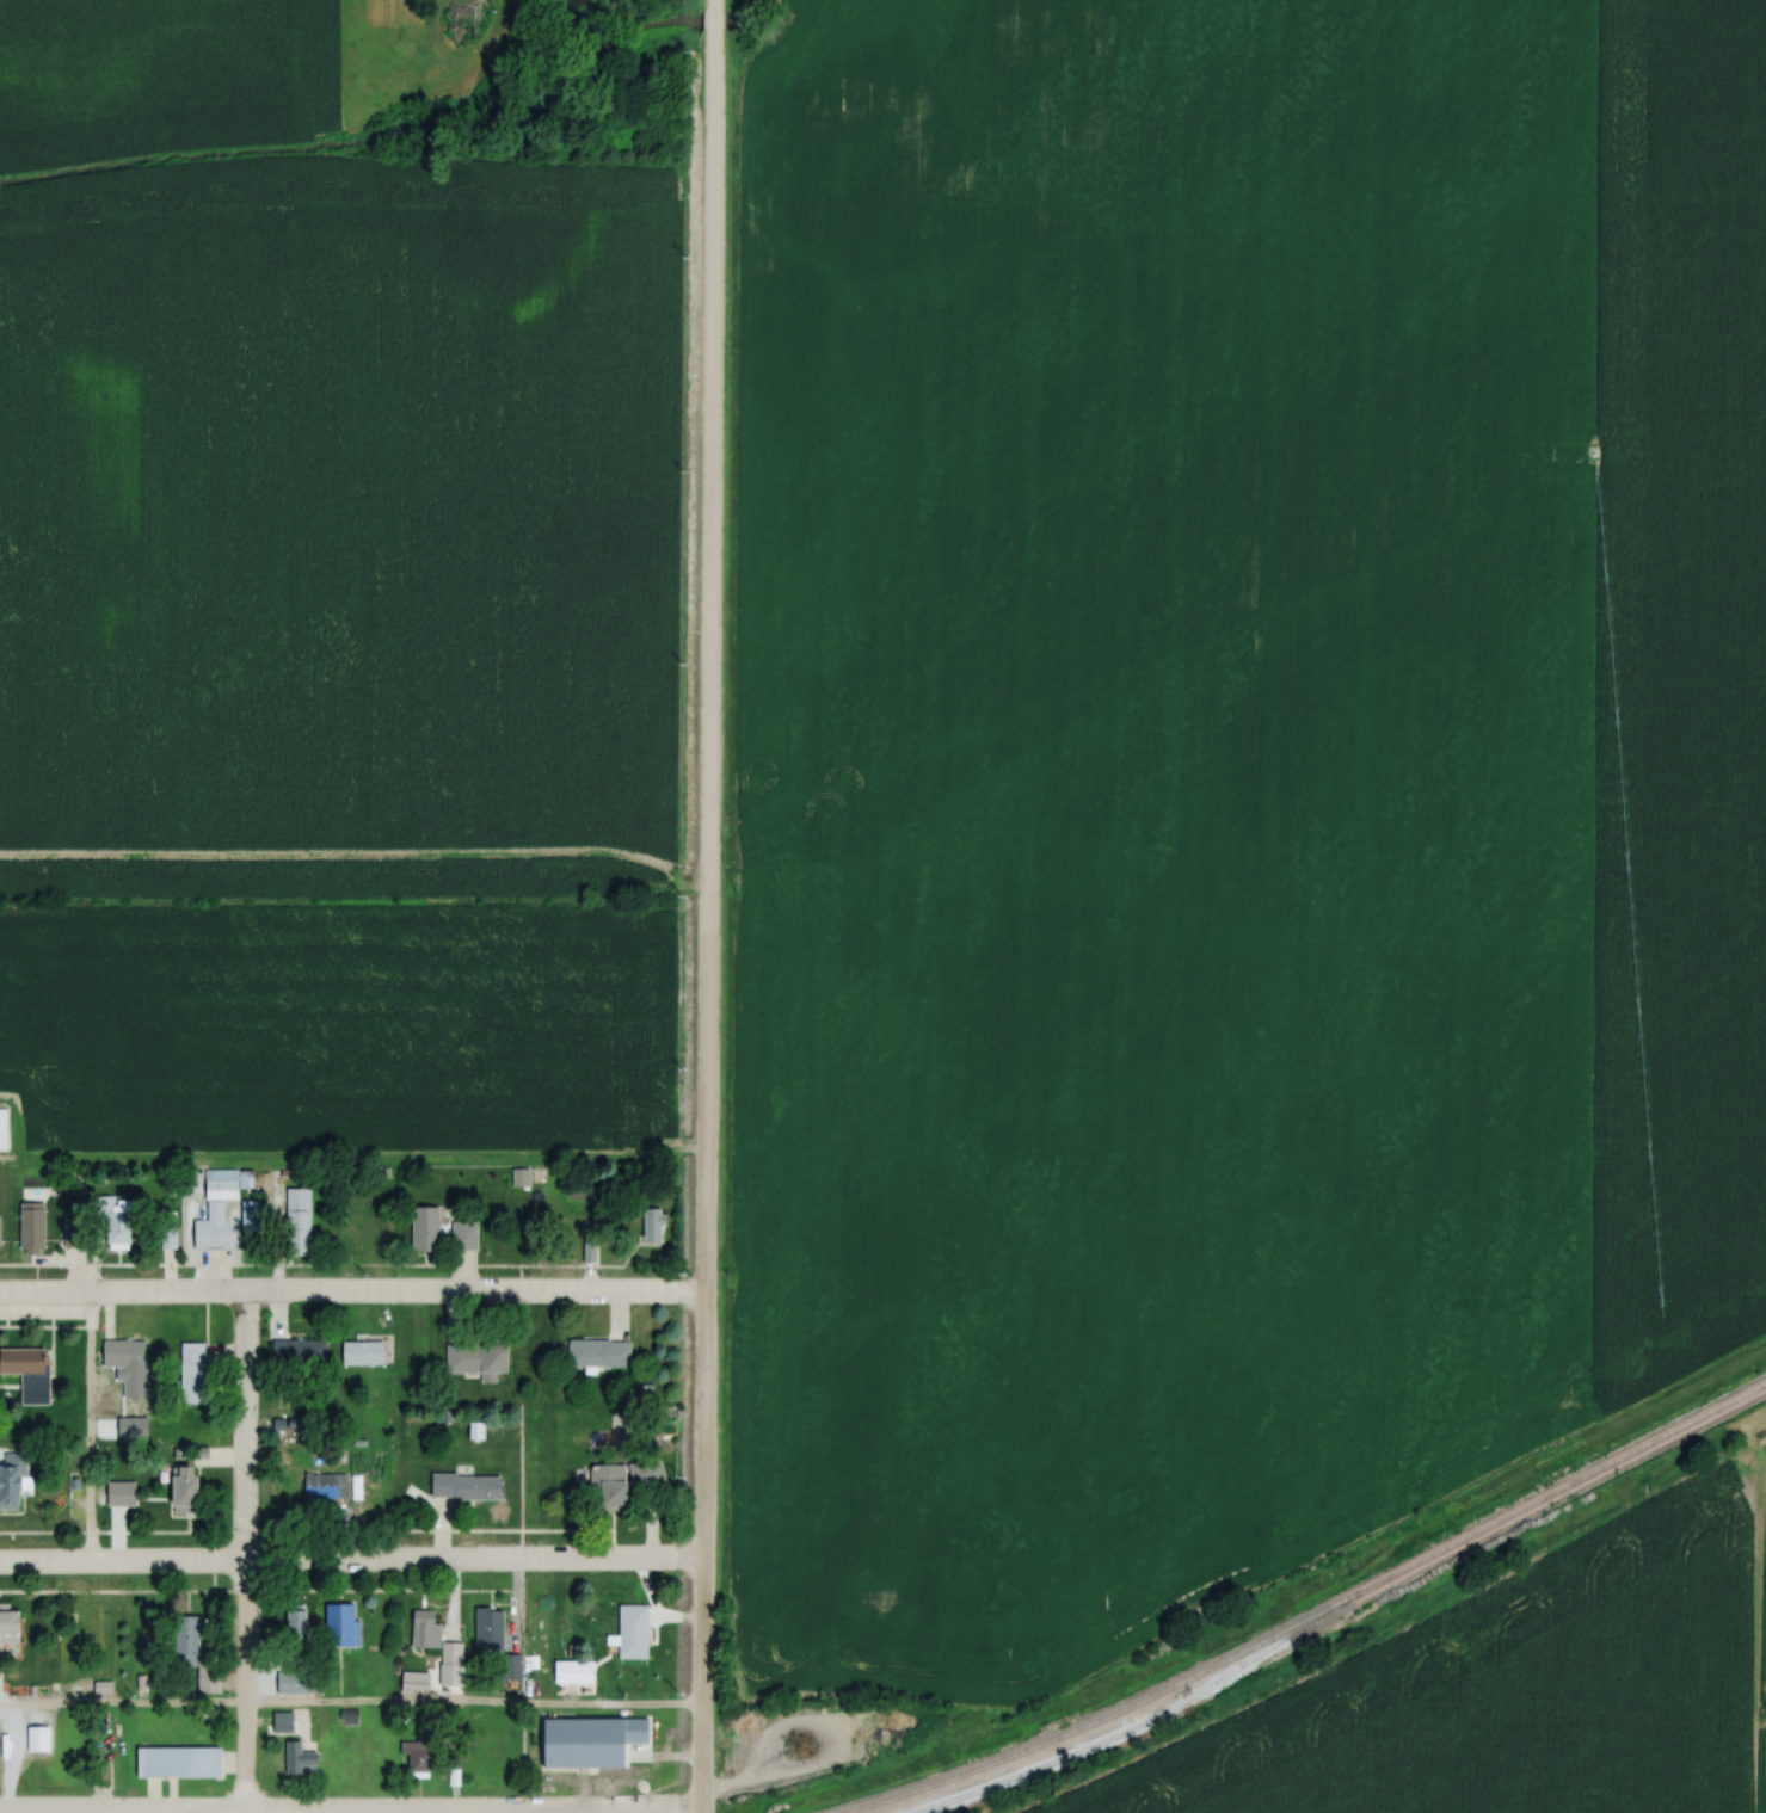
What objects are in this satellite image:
road: (712, 5)
road: (712, 18)
road: (704, 919)
building: (2, 1128)
building: (220, 1178)
building: (253, 1216)
building: (652, 1225)
building: (31, 1226)
building: (213, 1226)
building: (425, 1227)
building: (118, 1228)
building: (297, 1228)
building: (72, 1234)
building: (463, 1234)
road: (351, 1295)
building: (297, 1351)
building: (362, 1352)
building: (123, 1353)
building: (598, 1353)
building: (476, 1358)
building: (27, 1371)
building: (191, 1373)
road: (88, 1432)
building: (12, 1480)
building: (620, 1482)
building: (322, 1485)
building: (464, 1485)
building: (184, 1488)
road: (245, 1554)
road: (350, 1566)
railway: (1299, 1616)
building: (10, 1624)
building: (340, 1624)
building: (487, 1627)
building: (297, 1628)
building: (424, 1628)
building: (630, 1630)
building: (195, 1655)
building: (509, 1665)
building: (294, 1683)
road: (350, 1707)
building: (346, 1716)
building: (282, 1722)
railway: (1124, 1726)
building: (37, 1738)
building: (416, 1756)
building: (297, 1759)
building: (178, 1762)
road: (638, 1812)

